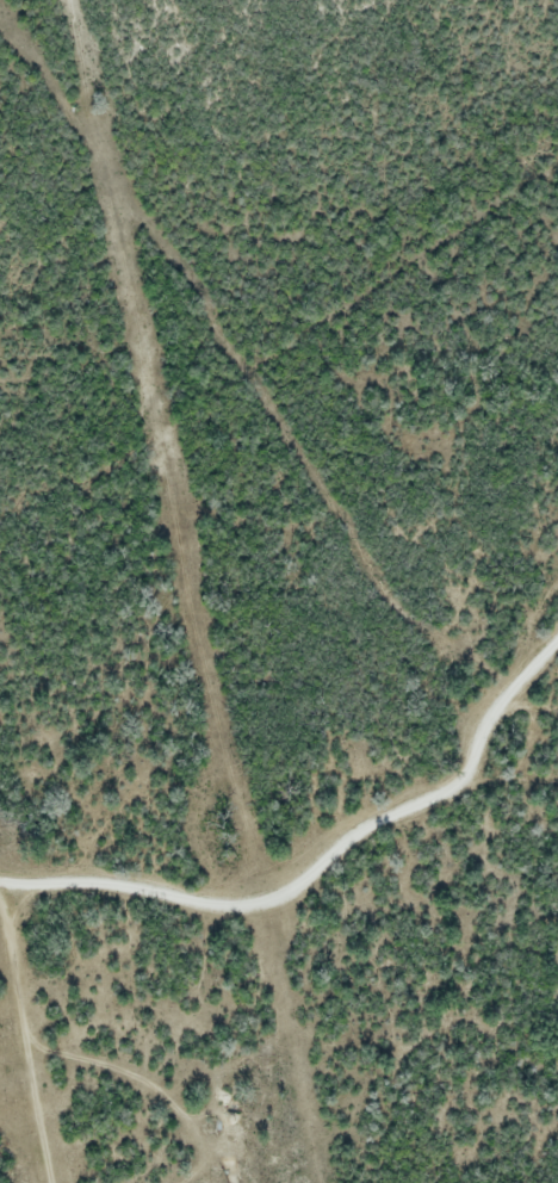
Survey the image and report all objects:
road: (320, 869)

